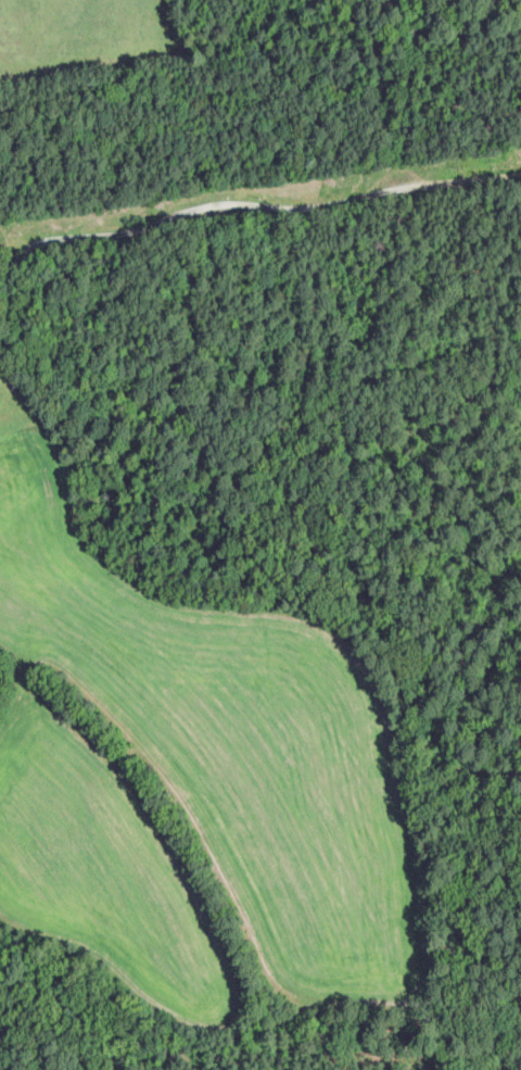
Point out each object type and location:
road: (212, 205)

